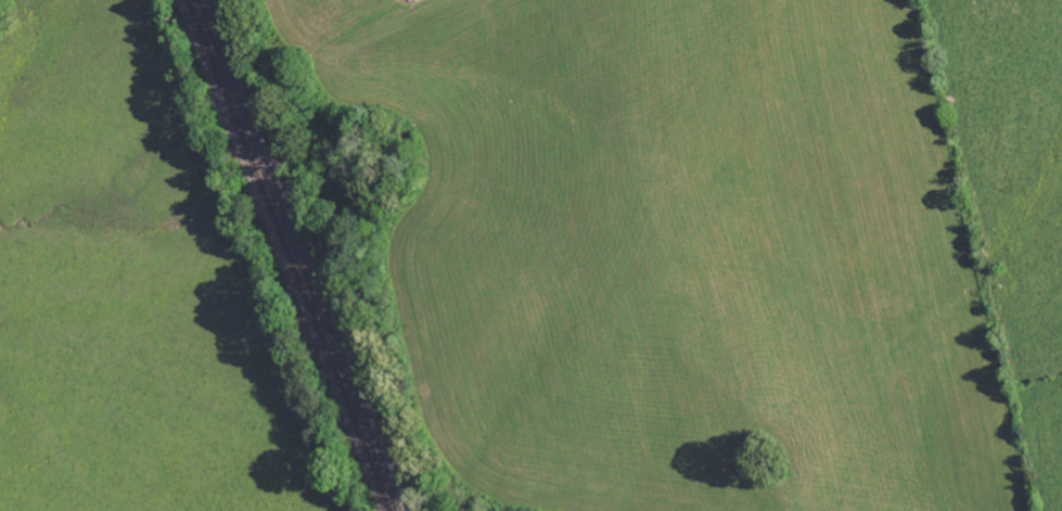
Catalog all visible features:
railway: (289, 255)
railway: (299, 255)
road: (41, 458)

